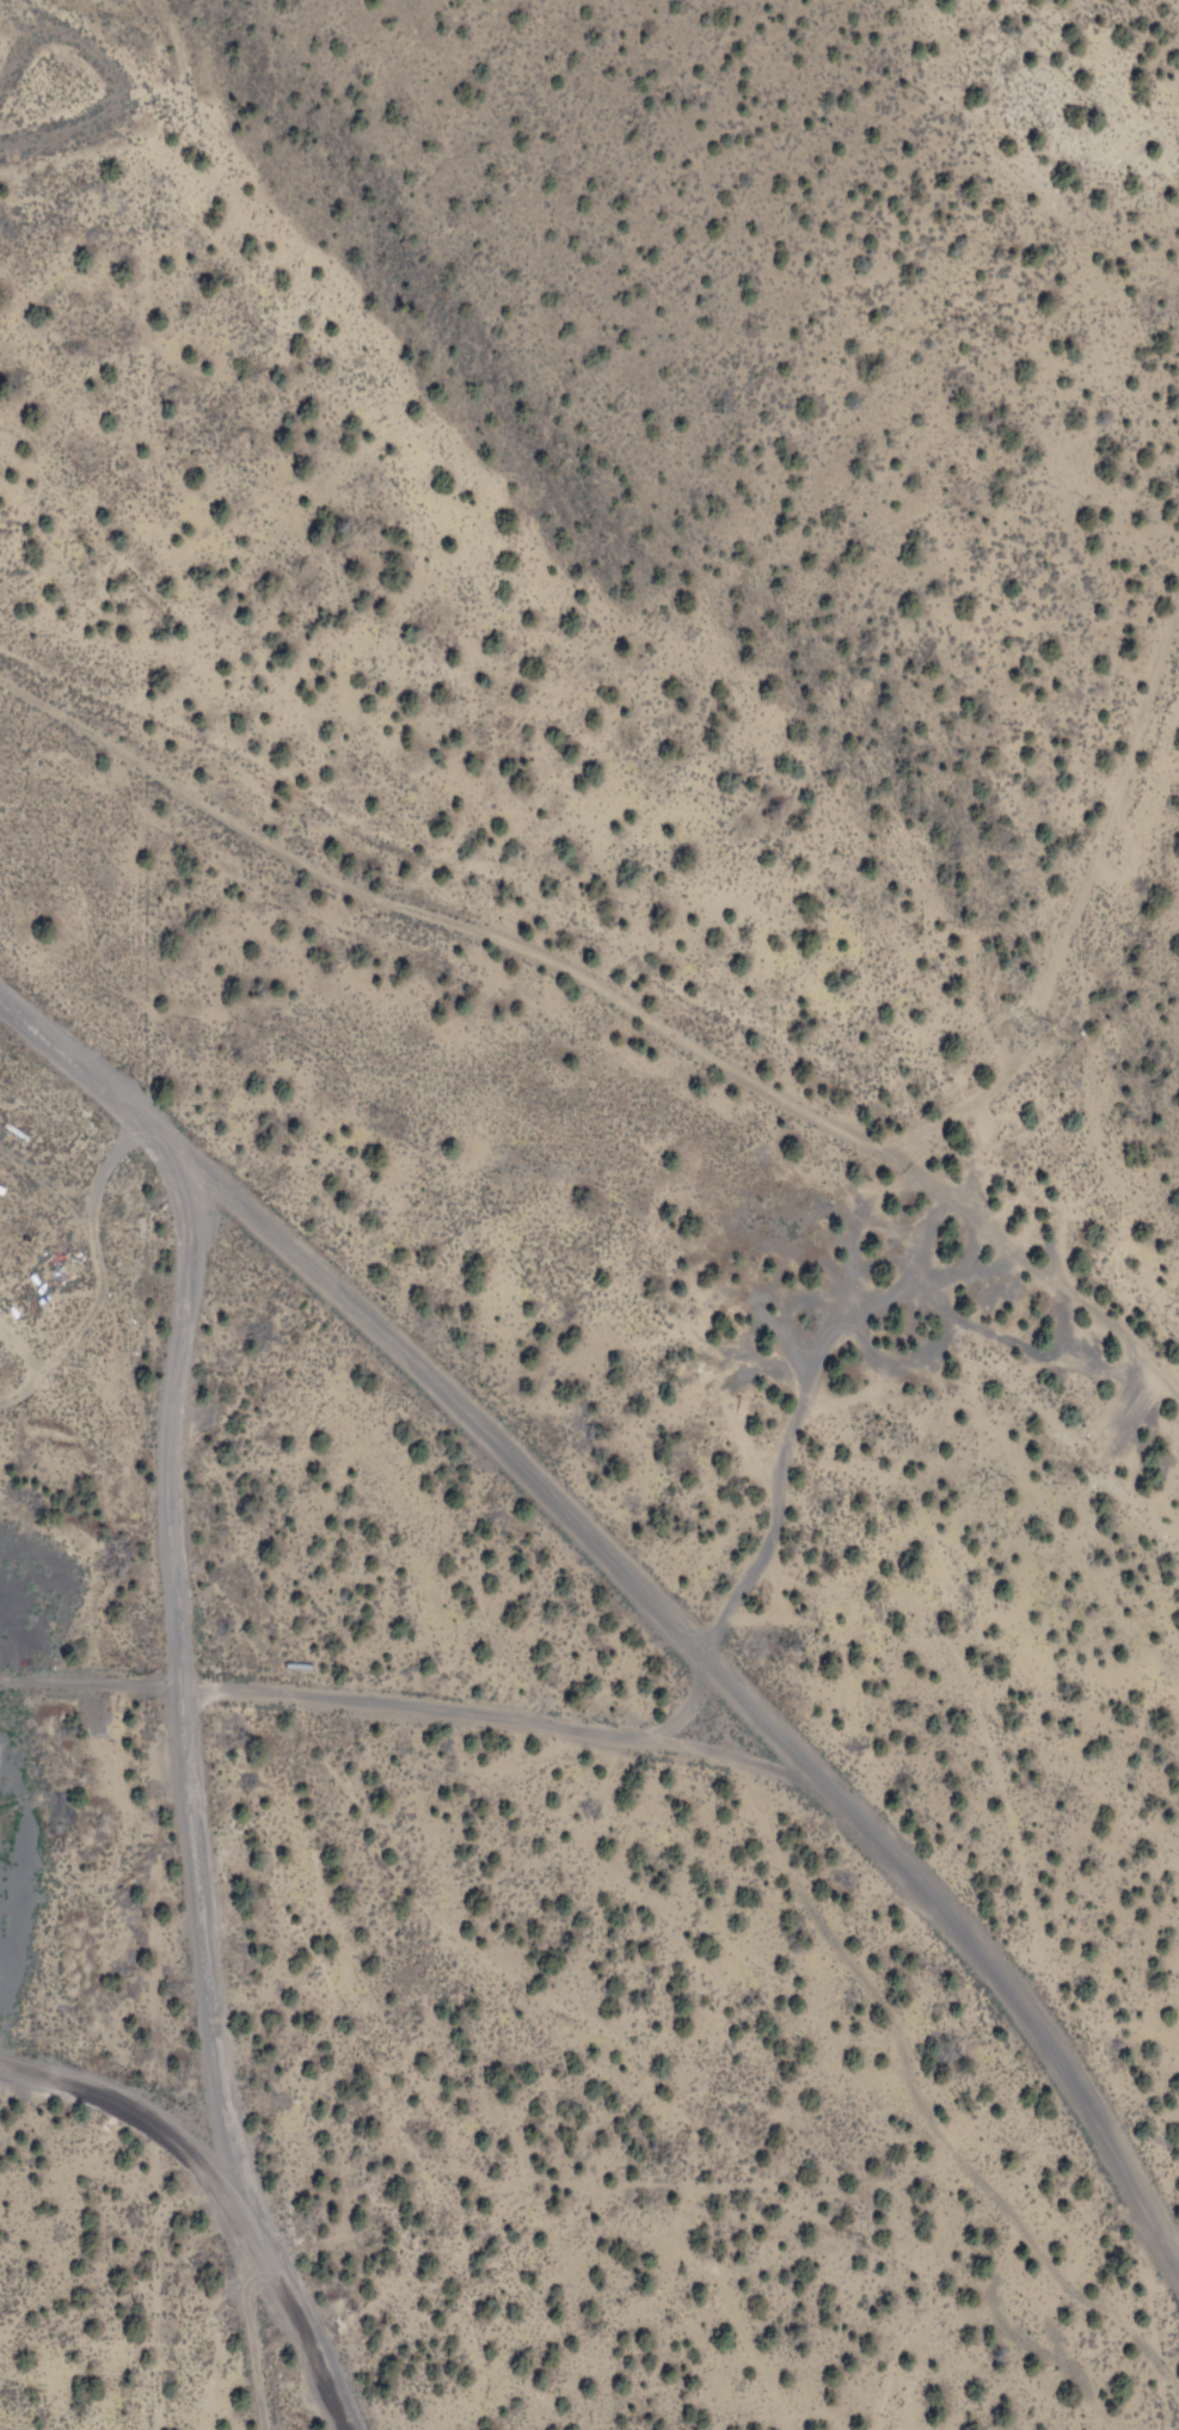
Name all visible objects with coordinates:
road: (1008, 1045)
road: (638, 1603)
road: (182, 1668)
road: (392, 1713)
quarry: (5, 1741)
road: (234, 2171)

